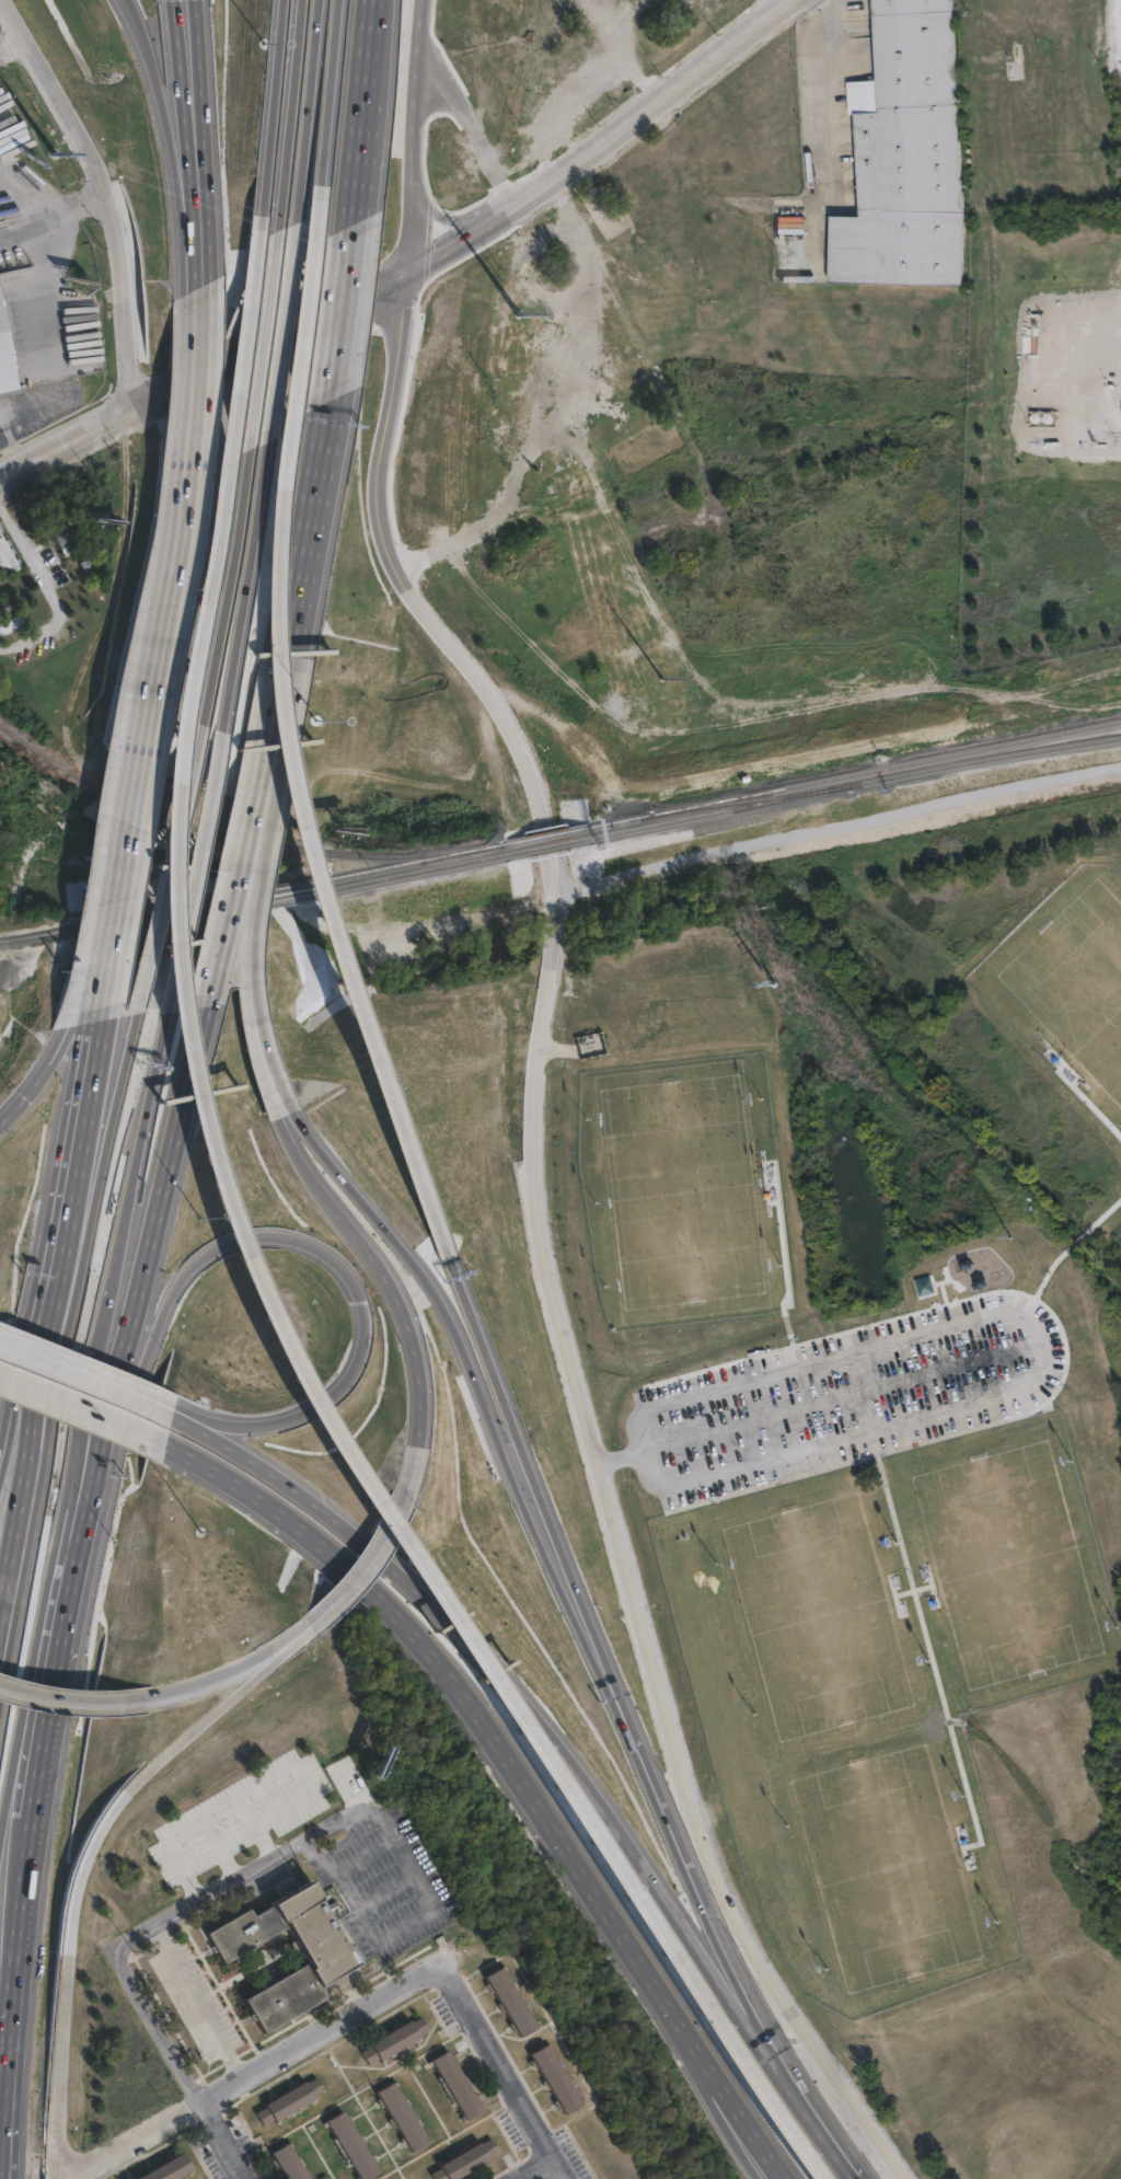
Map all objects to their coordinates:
road: (136, 1)
road: (189, 36)
road: (194, 36)
road: (377, 54)
road: (327, 91)
road: (305, 111)
road: (288, 114)
road: (267, 115)
road: (823, 130)
road: (412, 132)
road: (176, 145)
building: (909, 158)
road: (367, 162)
power tower: (62, 174)
road: (207, 176)
road: (25, 192)
road: (107, 193)
road: (19, 241)
road: (38, 254)
road: (414, 264)
road: (348, 305)
road: (280, 324)
road: (262, 332)
building: (4, 366)
road: (208, 394)
road: (193, 401)
road: (219, 475)
building: (104, 519)
building: (59, 538)
road: (302, 573)
road: (221, 584)
road: (242, 584)
road: (47, 588)
building: (16, 596)
building: (7, 614)
road: (162, 681)
road: (278, 734)
power tower: (557, 753)
road: (270, 765)
railway: (842, 777)
railway: (843, 789)
railway: (729, 806)
railway: (543, 837)
railway: (234, 839)
road: (261, 846)
railway: (547, 850)
railway: (419, 861)
road: (170, 864)
road: (194, 866)
railway: (425, 874)
road: (245, 877)
road: (126, 883)
railway: (275, 890)
railway: (277, 902)
railway: (115, 922)
railway: (162, 922)
park: (827, 930)
road: (105, 945)
road: (122, 946)
road: (254, 946)
road: (259, 946)
park: (1075, 980)
power tower: (782, 995)
road: (109, 1050)
road: (57, 1064)
road: (280, 1098)
road: (1088, 1105)
road: (140, 1126)
road: (108, 1162)
park: (679, 1191)
road: (1102, 1215)
road: (264, 1233)
road: (542, 1234)
road: (239, 1238)
road: (1074, 1242)
power tower: (1018, 1256)
road: (783, 1265)
road: (154, 1273)
road: (1040, 1283)
road: (48, 1284)
road: (461, 1322)
road: (419, 1336)
road: (93, 1361)
road: (56, 1362)
road: (1044, 1364)
road: (91, 1375)
parking lot: (844, 1397)
road: (89, 1400)
road: (86, 1462)
road: (544, 1471)
road: (62, 1511)
road: (375, 1556)
park: (1010, 1566)
road: (911, 1590)
road: (67, 1618)
road: (2, 1619)
park: (819, 1619)
road: (315, 1621)
road: (453, 1658)
road: (931, 1658)
road: (234, 1669)
road: (523, 1693)
road: (78, 1702)
road: (43, 1742)
road: (259, 1789)
road: (4, 1801)
road: (219, 1849)
road: (285, 1853)
road: (91, 1854)
road: (363, 1856)
park: (887, 1870)
road: (700, 1875)
road: (383, 1891)
road: (192, 1902)
road: (429, 1905)
road: (666, 1937)
road: (20, 1940)
building: (328, 1956)
road: (198, 2002)
building: (511, 2002)
road: (154, 2027)
road: (320, 2031)
building: (394, 2041)
road: (720, 2066)
road: (708, 2067)
road: (500, 2070)
building: (556, 2079)
building: (457, 2086)
road: (89, 2090)
building: (290, 2101)
road: (185, 2111)
building: (403, 2118)
road: (11, 2119)
road: (16, 2119)
road: (79, 2120)
road: (817, 2120)
road: (222, 2141)
road: (118, 2147)
building: (353, 2147)
building: (466, 2161)
building: (289, 2164)
road: (115, 2165)
building: (171, 2169)
road: (534, 2169)
road: (61, 2171)

